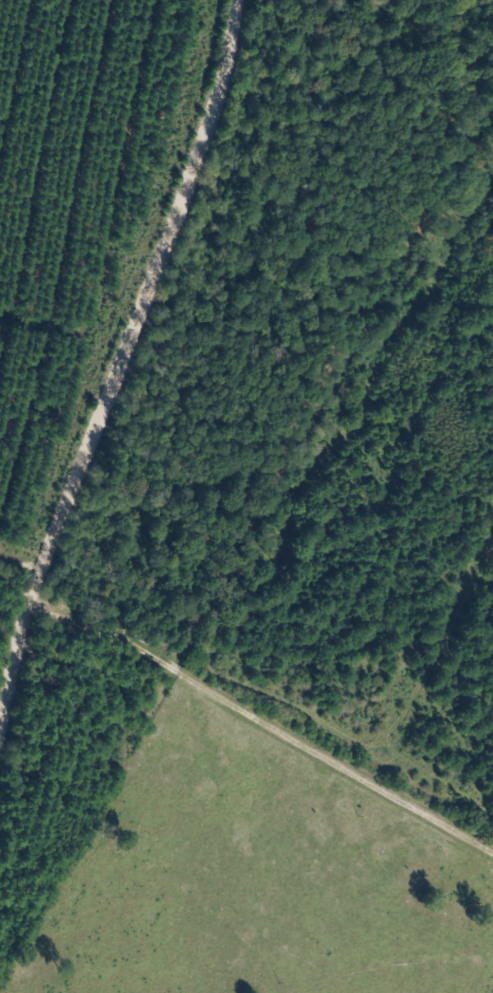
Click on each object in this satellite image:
road: (129, 375)

